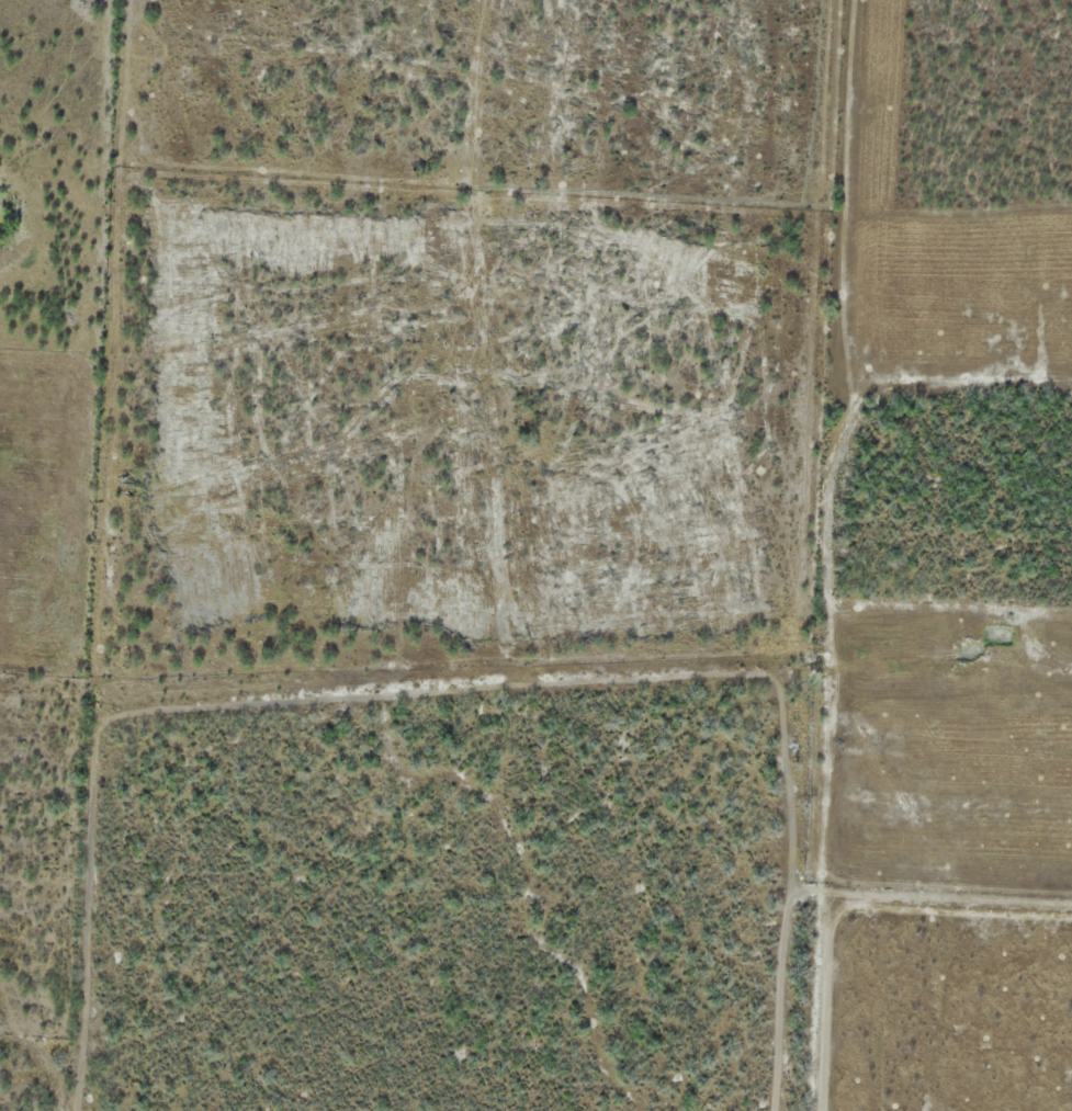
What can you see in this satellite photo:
road: (957, 906)

